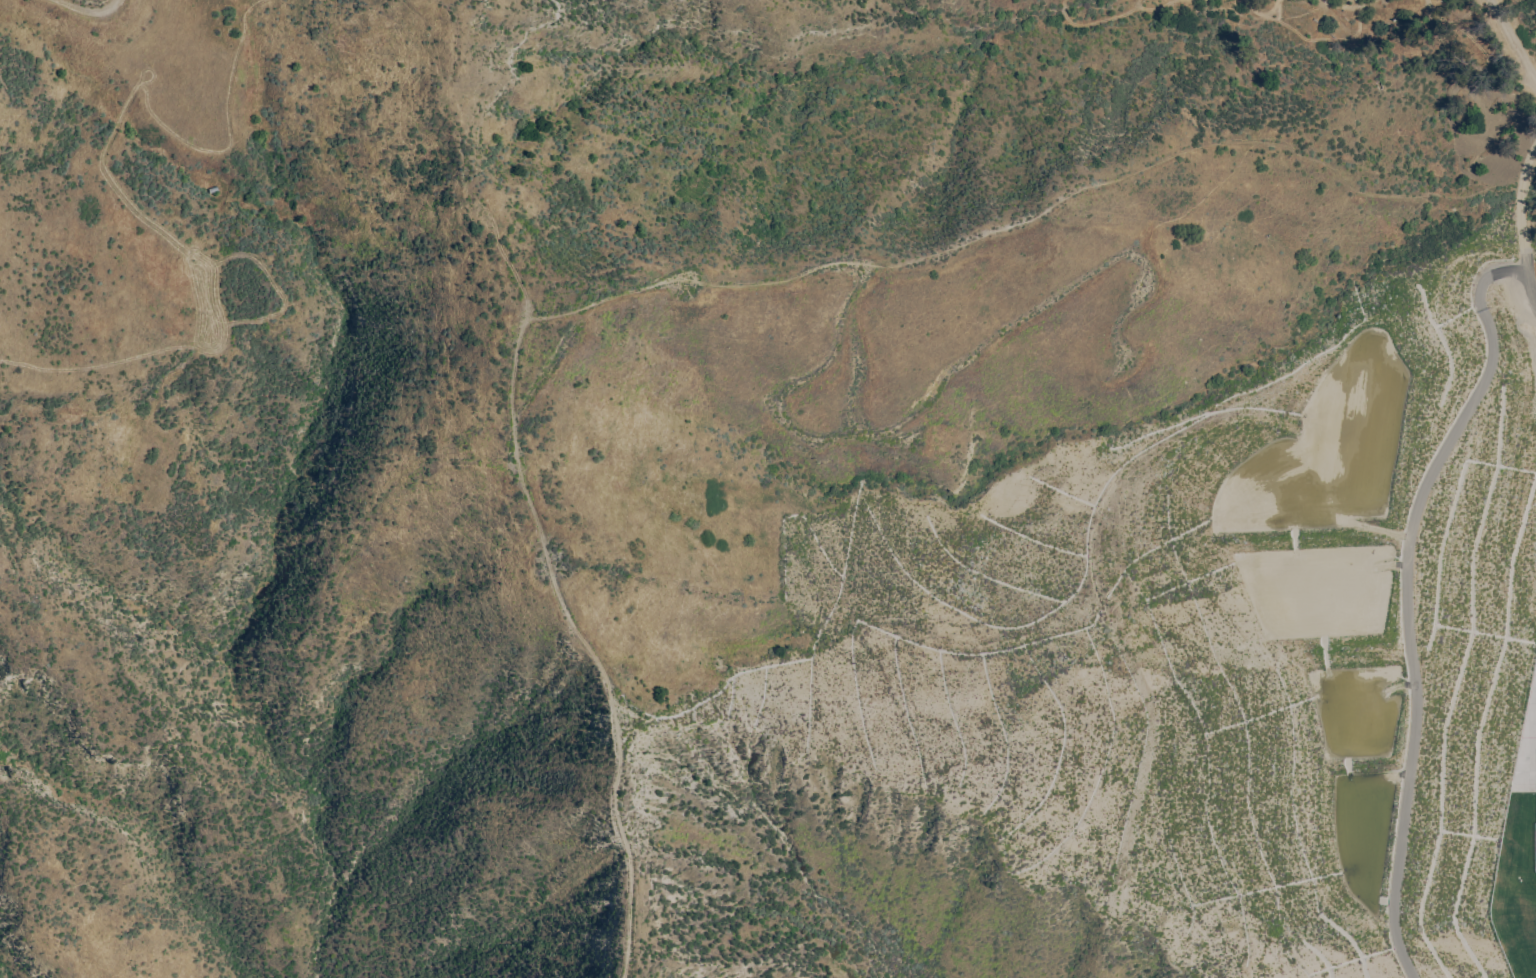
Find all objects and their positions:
road: (89, 19)
road: (1513, 39)
road: (1520, 207)
road: (1488, 277)
road: (1531, 290)
road: (1409, 637)
road: (1532, 711)
park: (1516, 886)

